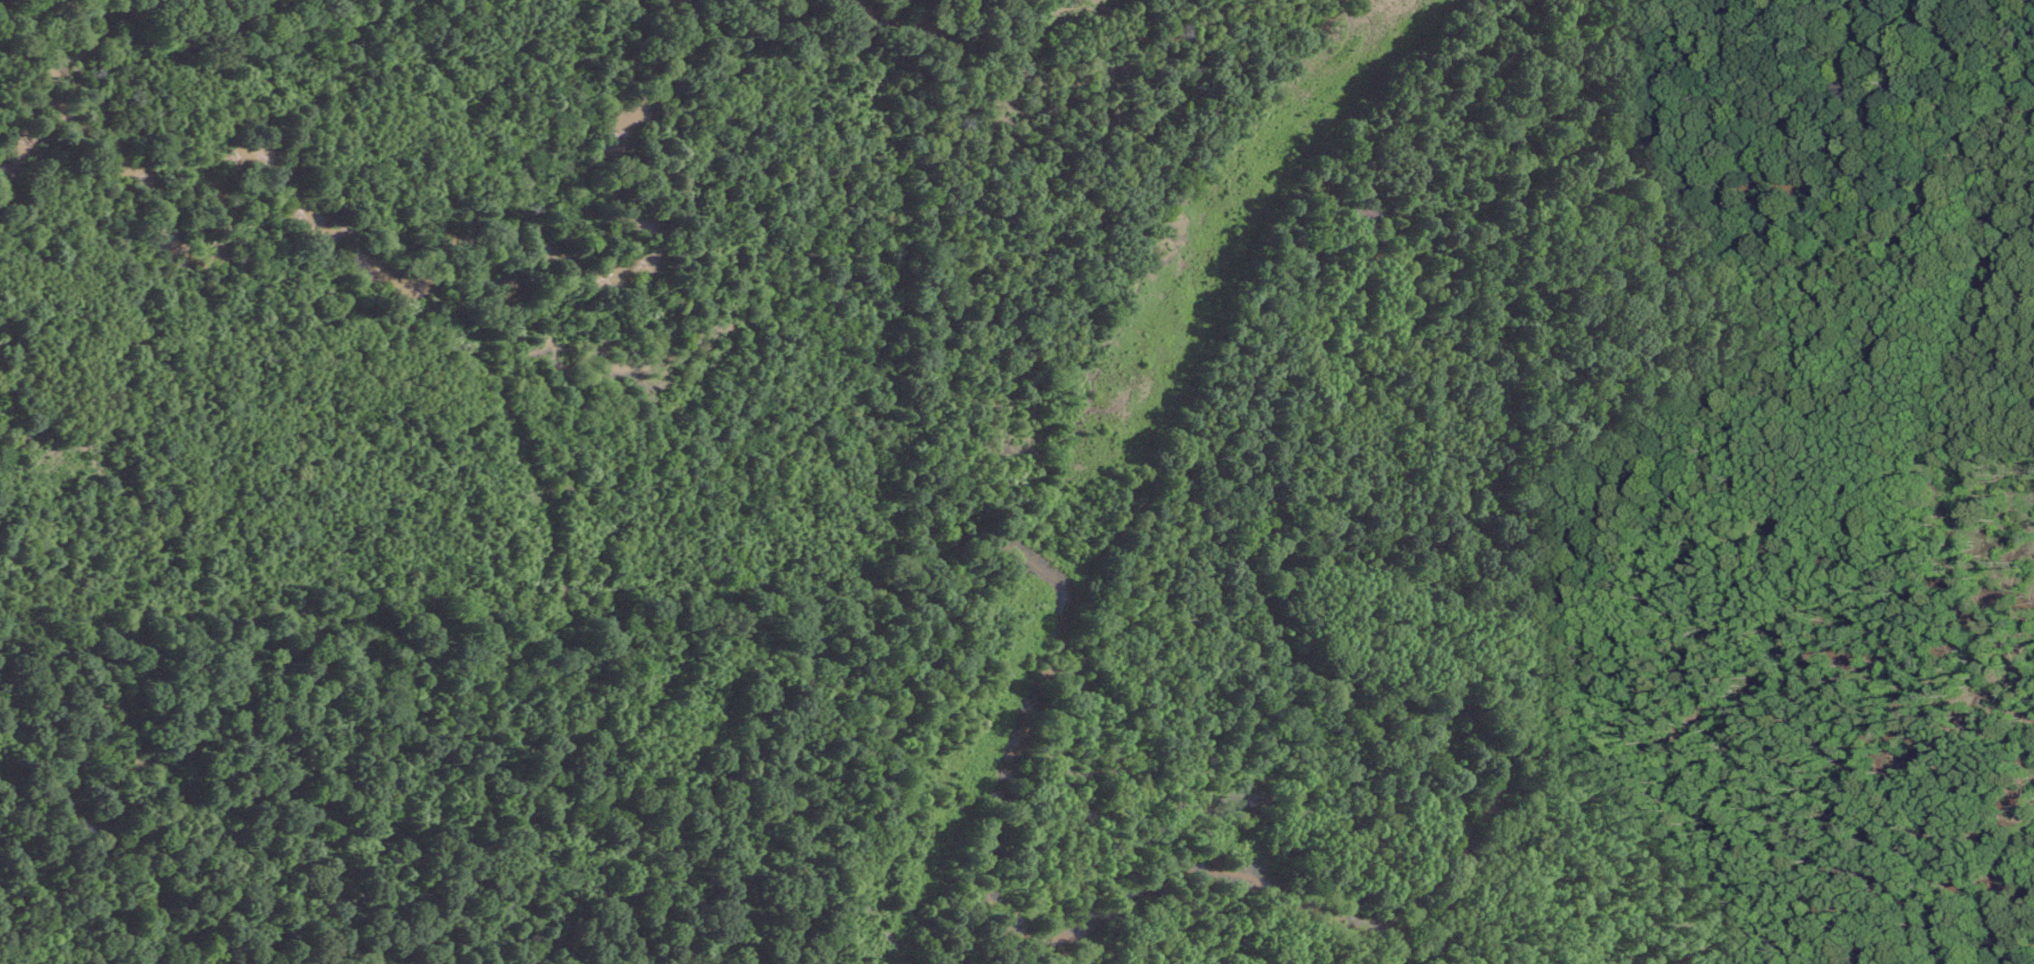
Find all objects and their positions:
river: (773, 13)
river: (912, 21)
river: (427, 268)

